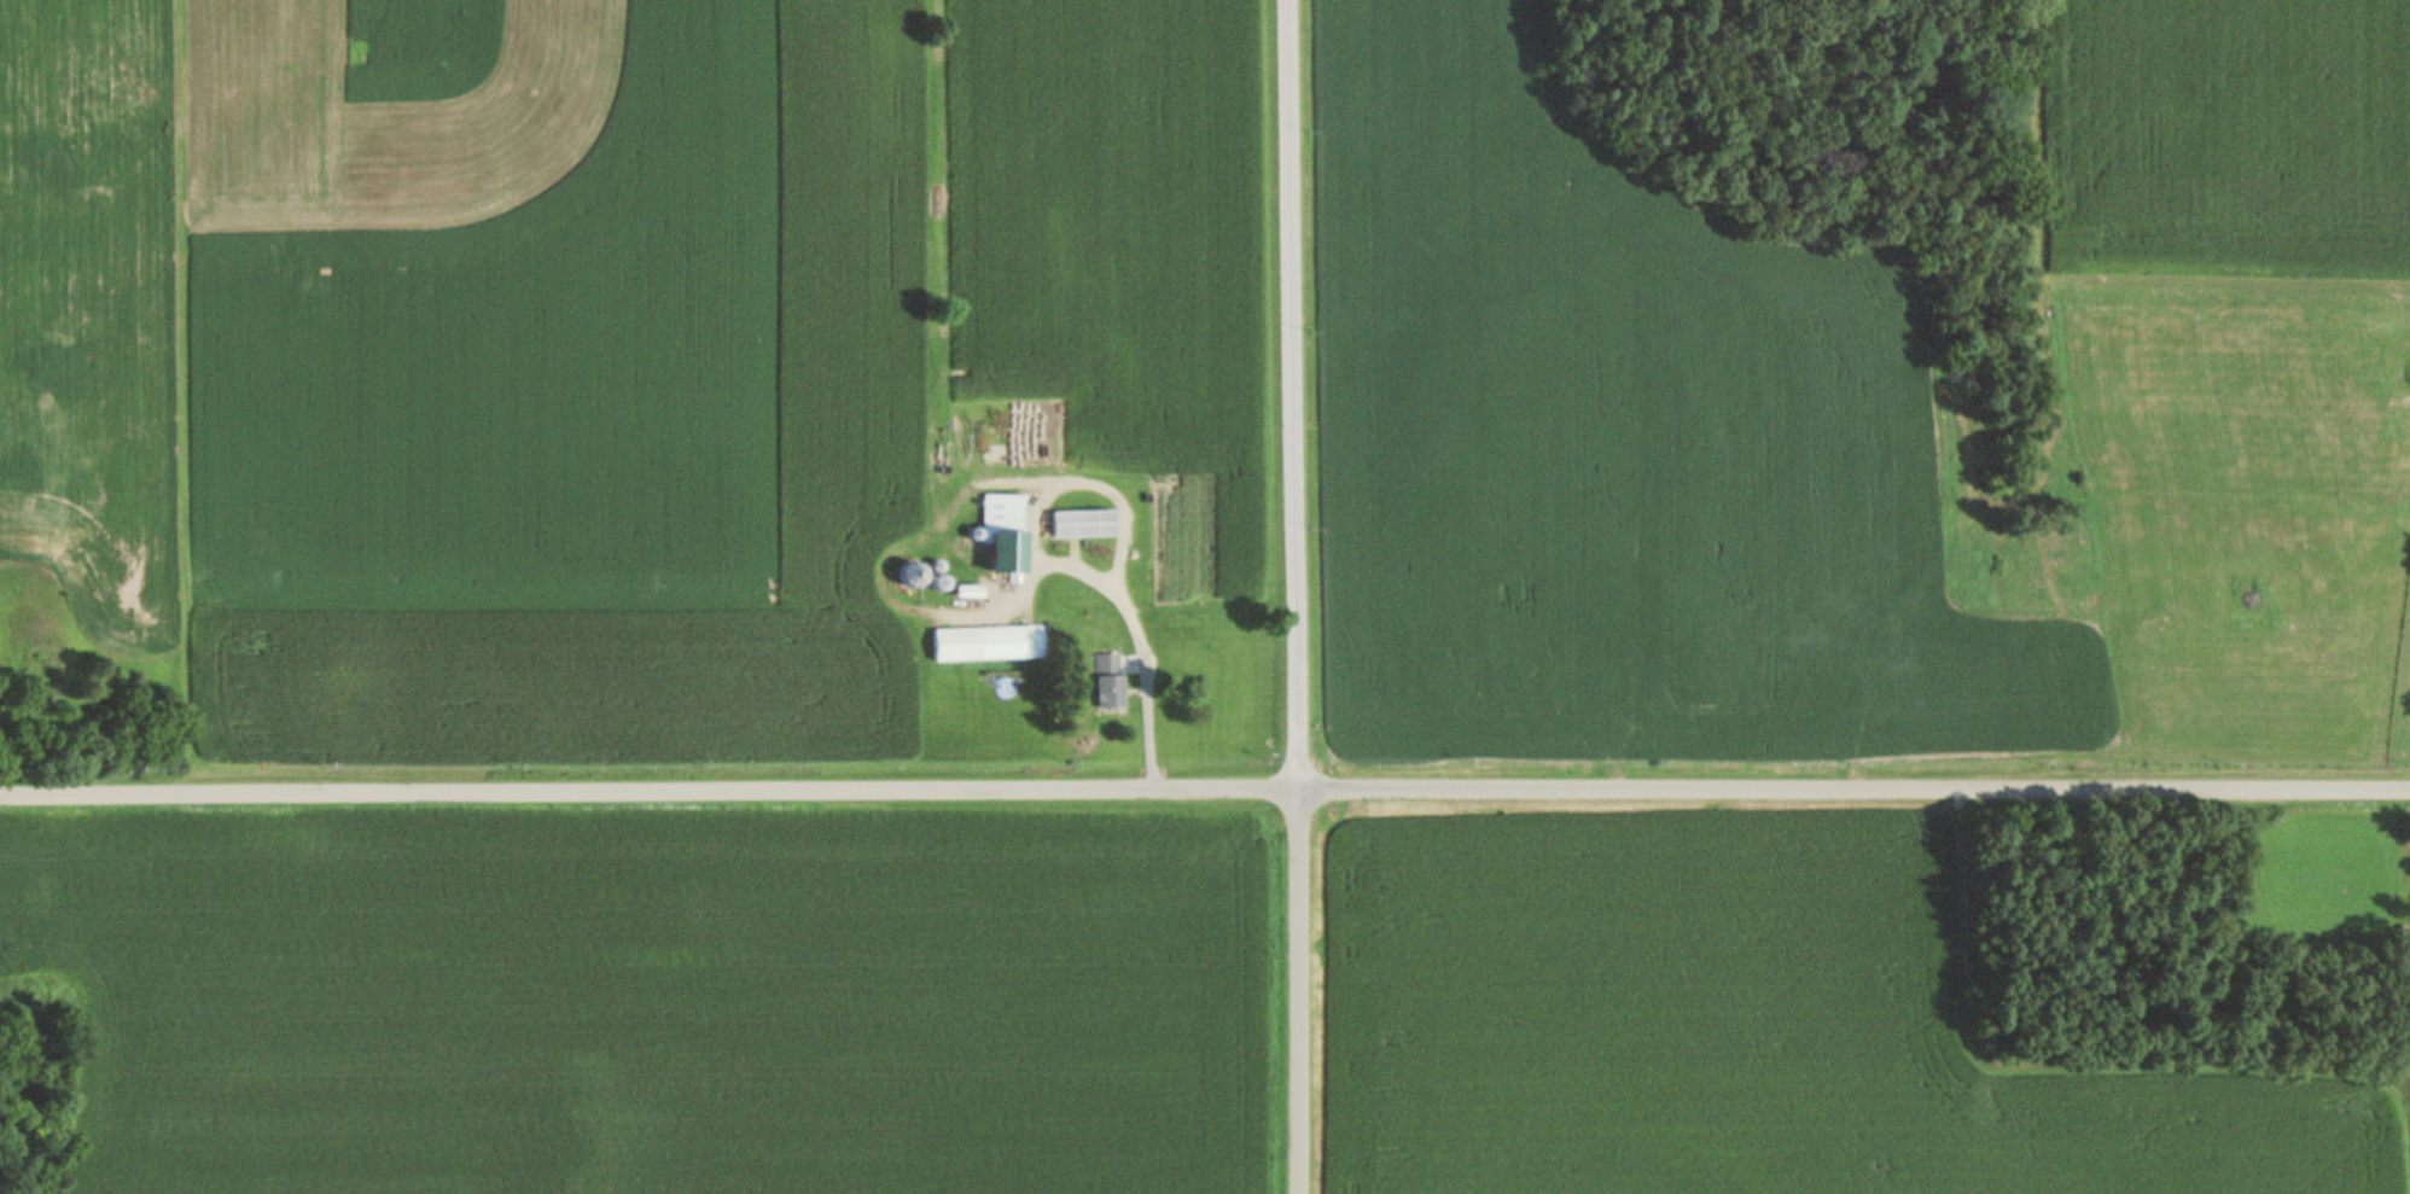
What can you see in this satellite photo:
road: (1098, 487)
building: (1082, 522)
building: (1005, 535)
road: (1112, 583)
building: (968, 590)
road: (1296, 596)
building: (986, 642)
building: (1108, 678)
road: (1204, 788)
road: (2095, 1070)

